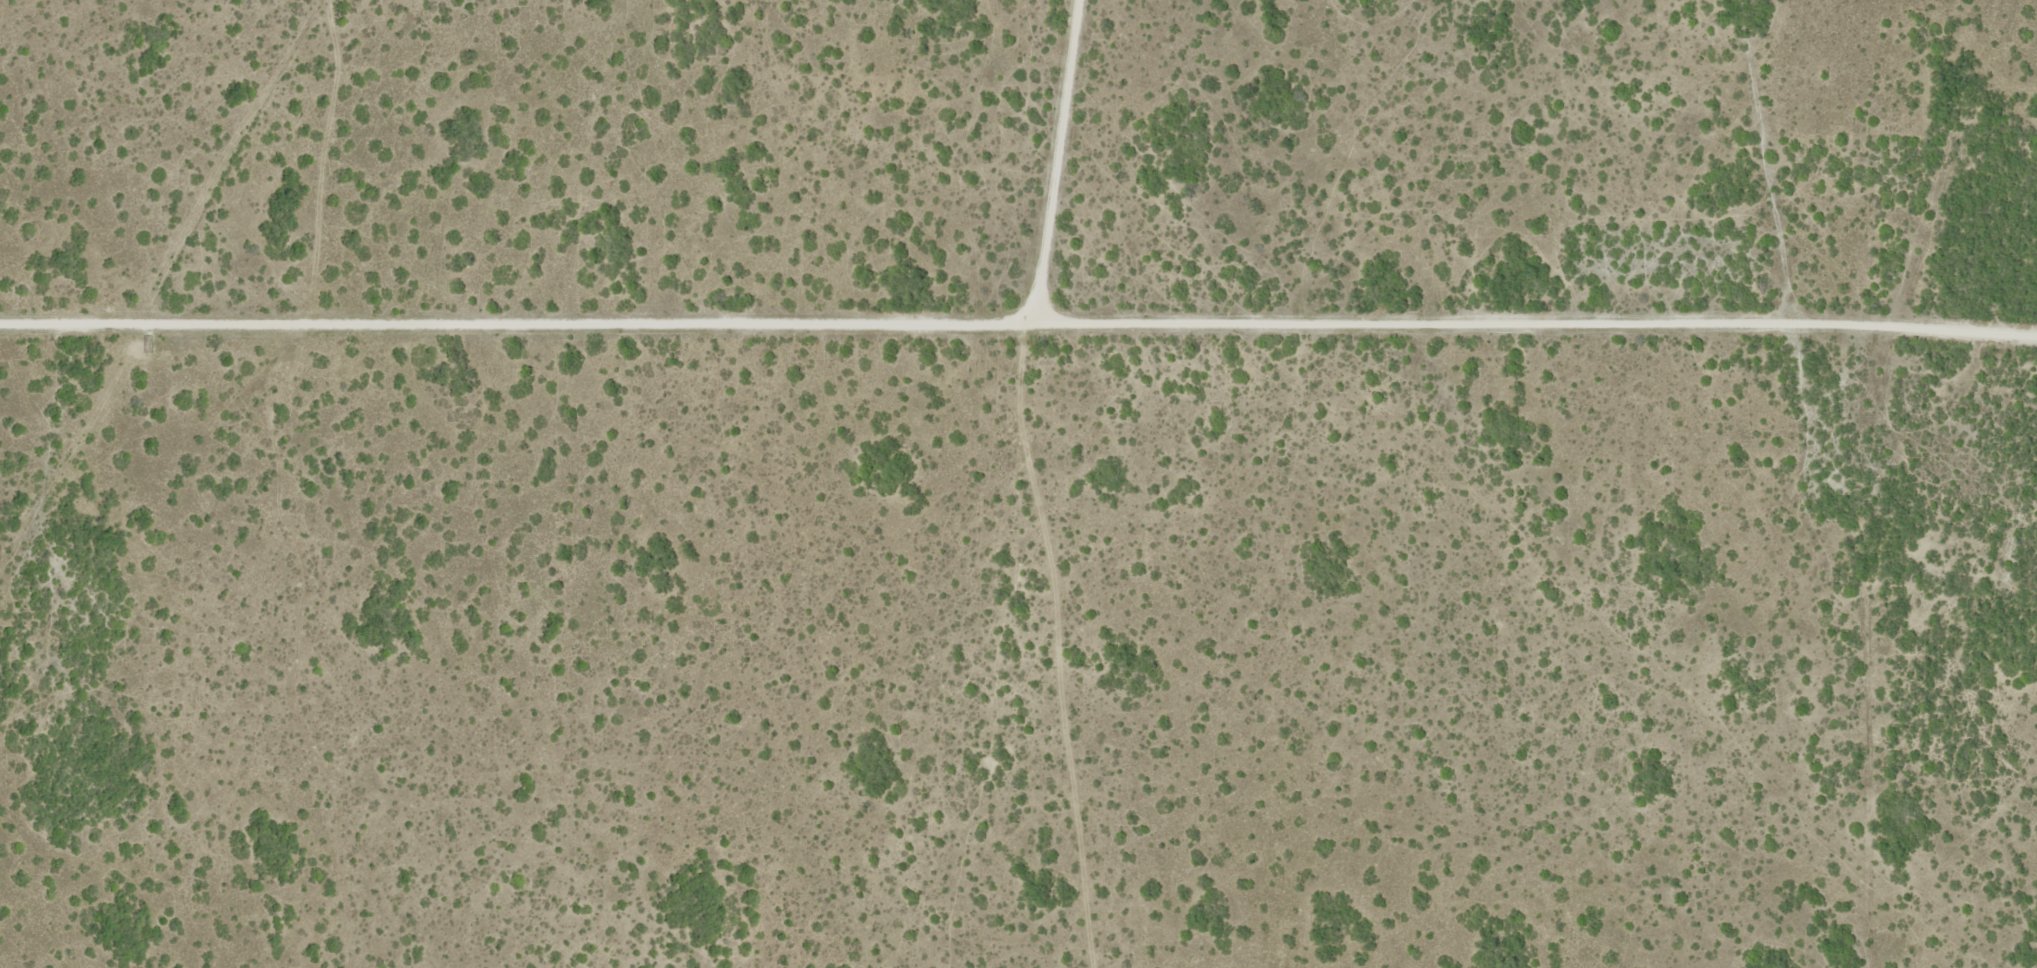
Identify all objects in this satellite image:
road: (1075, 164)
road: (1018, 328)

